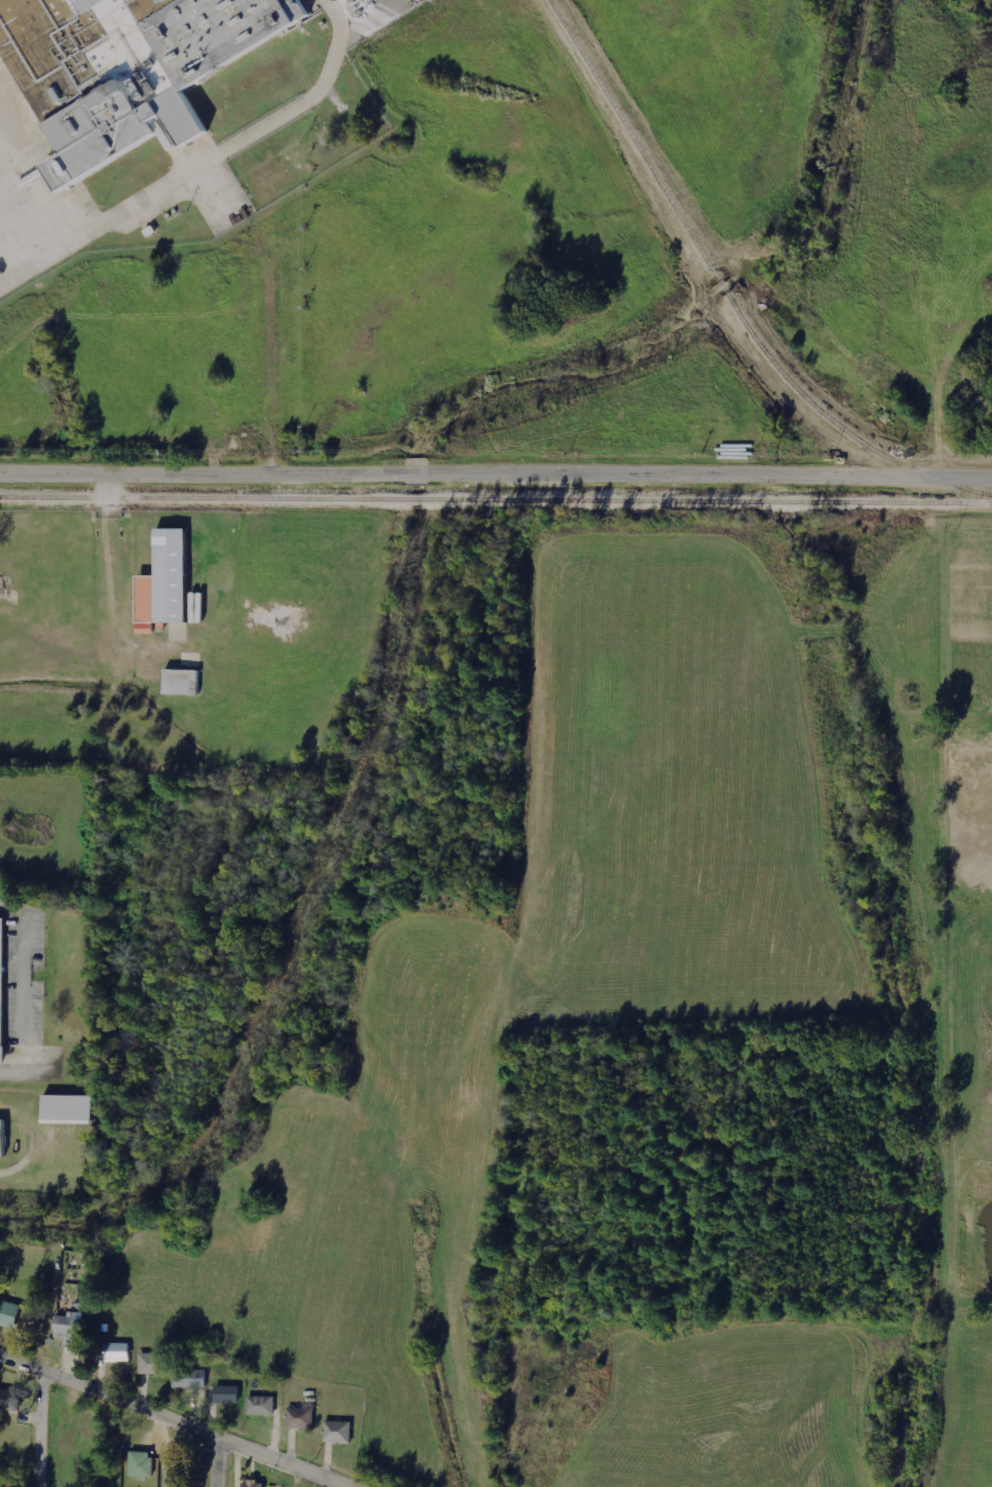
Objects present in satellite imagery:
building: (125, 67)
railway: (630, 137)
road: (183, 172)
railway: (719, 284)
railway: (836, 424)
road: (496, 466)
railway: (496, 500)
building: (160, 583)
building: (195, 608)
building: (180, 682)
building: (0, 968)
building: (73, 1107)
building: (1, 1140)
building: (12, 1315)
building: (73, 1325)
building: (121, 1352)
building: (154, 1363)
building: (192, 1378)
building: (230, 1394)
building: (11, 1399)
building: (263, 1405)
road: (187, 1417)
building: (303, 1418)
road: (50, 1427)
building: (340, 1432)
road: (228, 1459)
building: (144, 1464)
building: (179, 1474)
building: (257, 1483)

